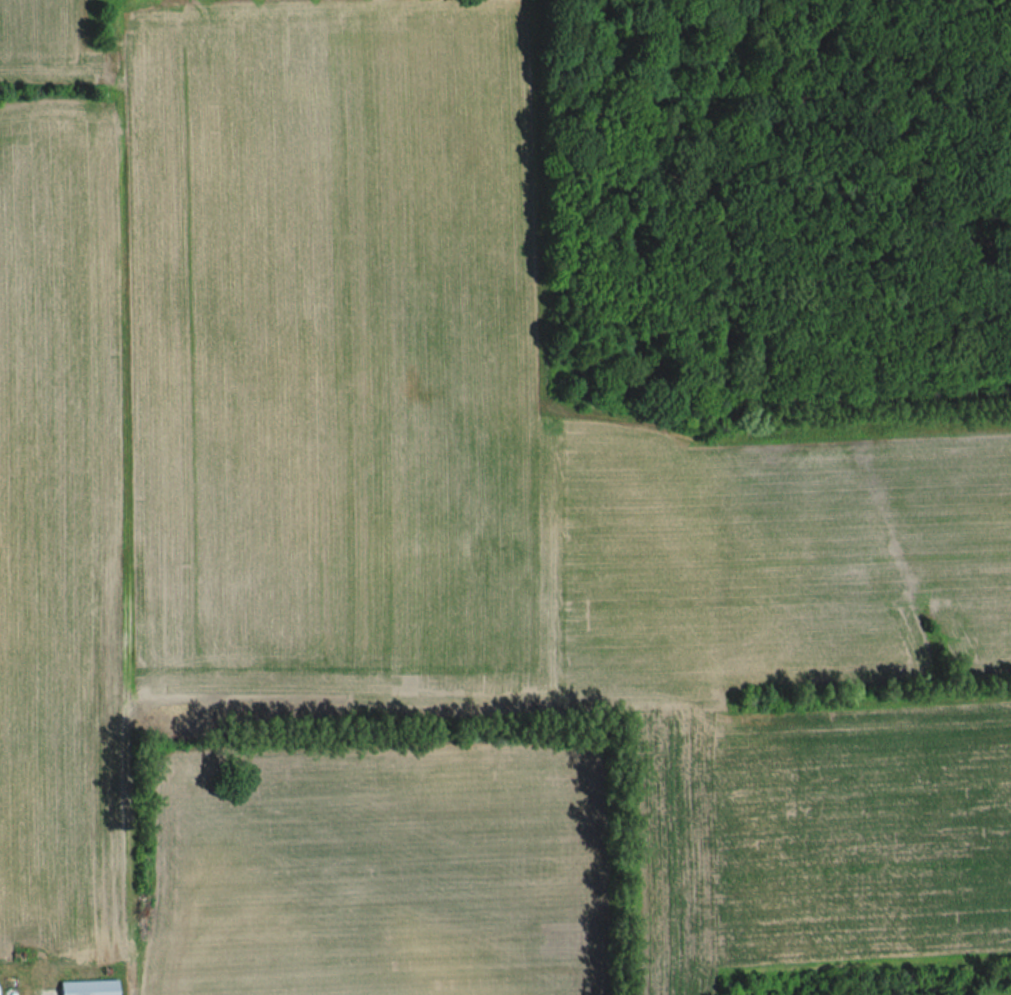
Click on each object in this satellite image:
crop: (45, 41)
crop: (449, 503)
crop: (373, 873)
building: (87, 988)

